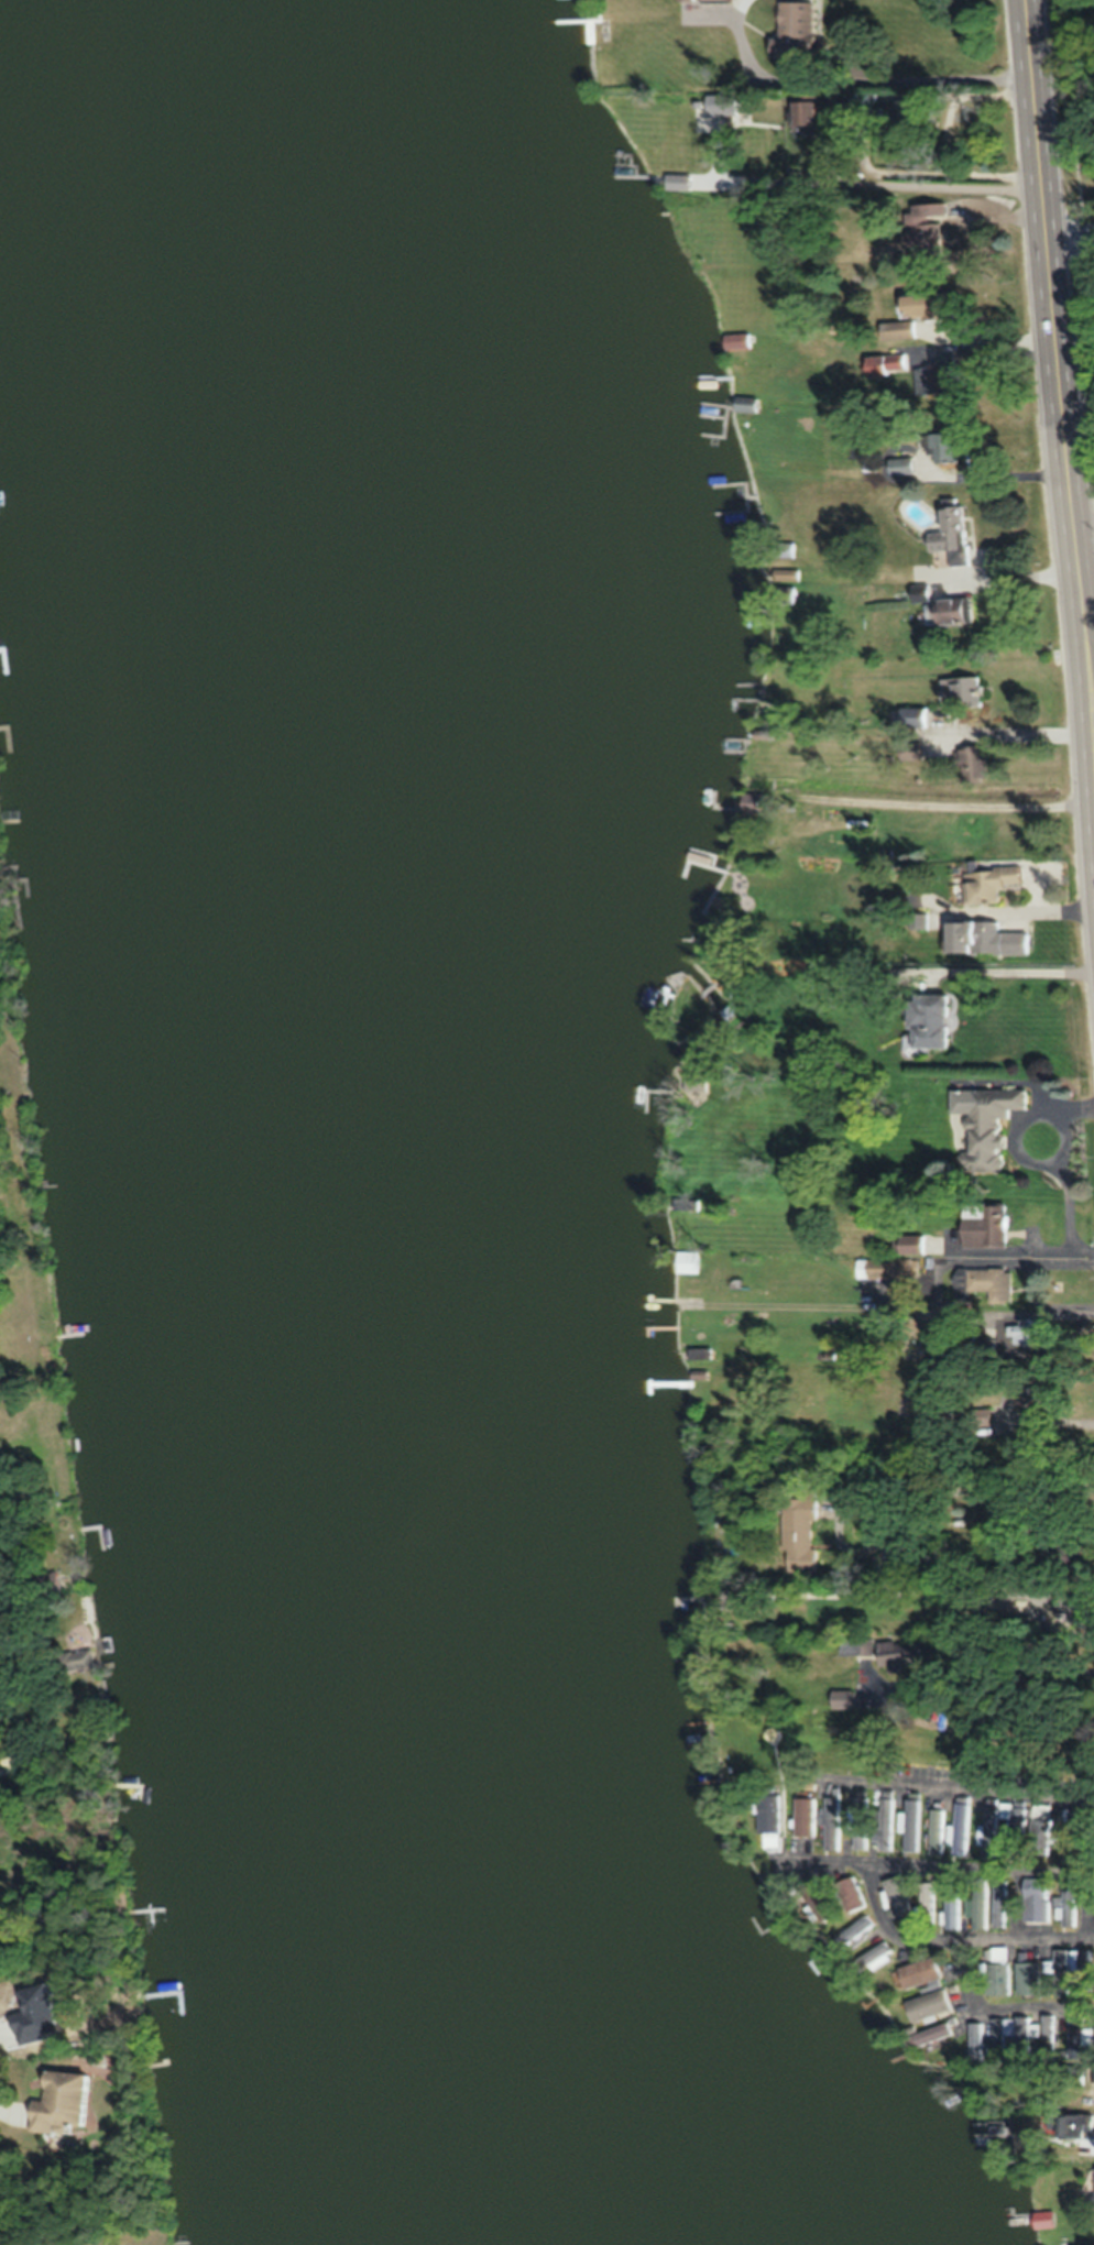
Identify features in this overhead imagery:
building: (790, 28)
building: (800, 112)
road: (772, 182)
road: (941, 187)
building: (922, 227)
road: (1071, 241)
park: (1083, 288)
building: (936, 306)
building: (897, 329)
building: (886, 361)
road: (1058, 361)
building: (939, 380)
building: (941, 443)
building: (900, 464)
building: (944, 527)
building: (949, 609)
road: (1092, 683)
building: (959, 690)
building: (907, 715)
building: (907, 749)
building: (971, 764)
building: (986, 883)
building: (981, 939)
building: (926, 1020)
building: (986, 1126)
river: (355, 1127)
building: (982, 1224)
building: (906, 1242)
road: (1021, 1255)
building: (880, 1267)
building: (984, 1281)
building: (1030, 1395)
building: (973, 1416)
building: (796, 1533)
building: (1063, 1602)
building: (851, 1644)
building: (897, 1653)
building: (78, 1656)
road: (976, 1675)
building: (840, 1698)
road: (956, 1784)
building: (767, 1813)
building: (802, 1815)
building: (885, 1819)
building: (831, 1820)
building: (1017, 1820)
building: (858, 1821)
building: (911, 1824)
building: (961, 1827)
building: (988, 1827)
building: (1039, 1828)
building: (936, 1830)
building: (1074, 1837)
road: (936, 1868)
building: (849, 1893)
building: (896, 1895)
building: (998, 1895)
building: (1035, 1899)
building: (818, 1901)
building: (926, 1902)
building: (980, 1902)
building: (1068, 1906)
building: (953, 1909)
building: (851, 1931)
road: (955, 1938)
building: (997, 1952)
building: (869, 1957)
building: (1068, 1965)
building: (915, 1972)
building: (1026, 1976)
building: (994, 1978)
building: (923, 2004)
road: (996, 2012)
building: (1019, 2032)
building: (926, 2034)
building: (1074, 2036)
building: (69, 2099)
building: (1093, 2187)
building: (1042, 2217)

